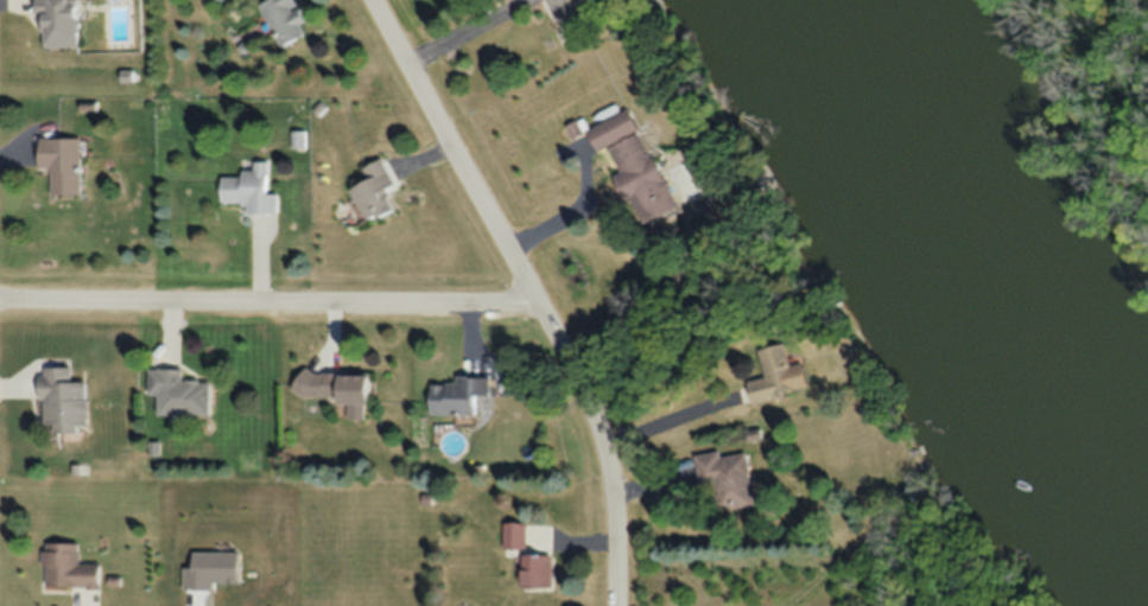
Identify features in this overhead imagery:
building: (569, 15)
building: (284, 21)
building: (59, 23)
road: (465, 34)
building: (61, 164)
building: (633, 168)
building: (252, 192)
building: (375, 192)
river: (977, 238)
road: (525, 292)
road: (268, 311)
building: (780, 377)
building: (338, 391)
building: (180, 393)
building: (458, 396)
building: (64, 400)
building: (730, 480)
building: (514, 536)
building: (69, 568)
building: (534, 570)

